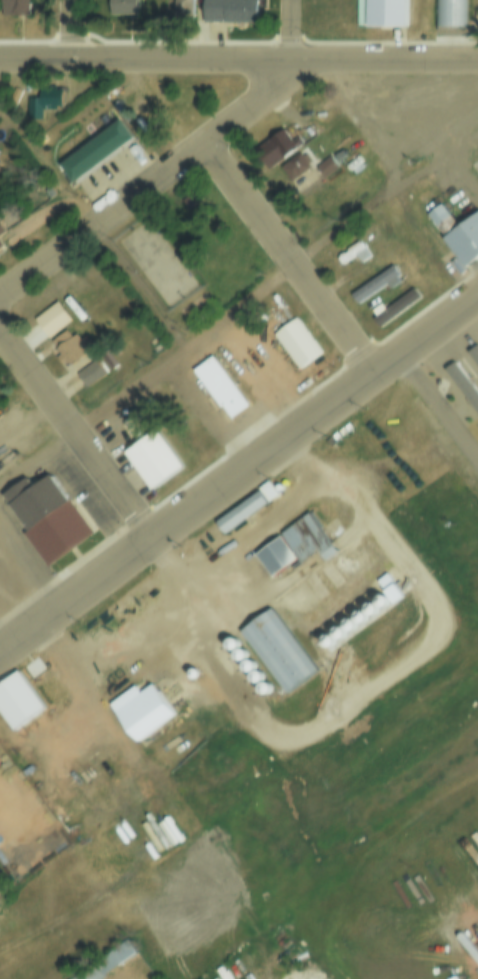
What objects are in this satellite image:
building: (122, 7)
building: (12, 9)
building: (180, 9)
building: (230, 11)
building: (449, 12)
building: (384, 15)
road: (79, 30)
road: (299, 30)
road: (239, 60)
building: (56, 98)
building: (35, 110)
building: (327, 111)
building: (276, 147)
building: (93, 153)
building: (293, 165)
building: (325, 165)
road: (390, 167)
road: (156, 187)
building: (1, 228)
building: (1, 234)
building: (456, 236)
building: (1, 245)
building: (350, 247)
park: (191, 249)
park: (155, 256)
road: (292, 258)
building: (373, 284)
building: (70, 285)
building: (392, 308)
road: (238, 311)
building: (44, 321)
building: (296, 343)
building: (68, 346)
building: (473, 358)
building: (90, 371)
building: (471, 375)
building: (463, 386)
building: (218, 387)
building: (453, 410)
building: (430, 418)
building: (18, 434)
road: (77, 435)
building: (475, 455)
building: (152, 461)
building: (445, 464)
road: (240, 478)
building: (266, 491)
building: (239, 511)
building: (46, 515)
building: (307, 543)
building: (274, 557)
building: (393, 592)
building: (385, 603)
silo: (385, 603)
building: (375, 611)
silo: (375, 611)
building: (364, 619)
silo: (364, 619)
building: (353, 627)
silo: (353, 627)
building: (342, 635)
silo: (342, 635)
building: (233, 642)
silo: (233, 642)
building: (331, 643)
silo: (331, 643)
building: (276, 652)
building: (240, 653)
silo: (240, 653)
building: (248, 664)
silo: (248, 664)
building: (31, 666)
building: (195, 672)
silo: (195, 672)
building: (256, 675)
silo: (256, 675)
building: (264, 687)
silo: (264, 687)
building: (50, 693)
building: (16, 701)
building: (139, 711)
building: (106, 962)

